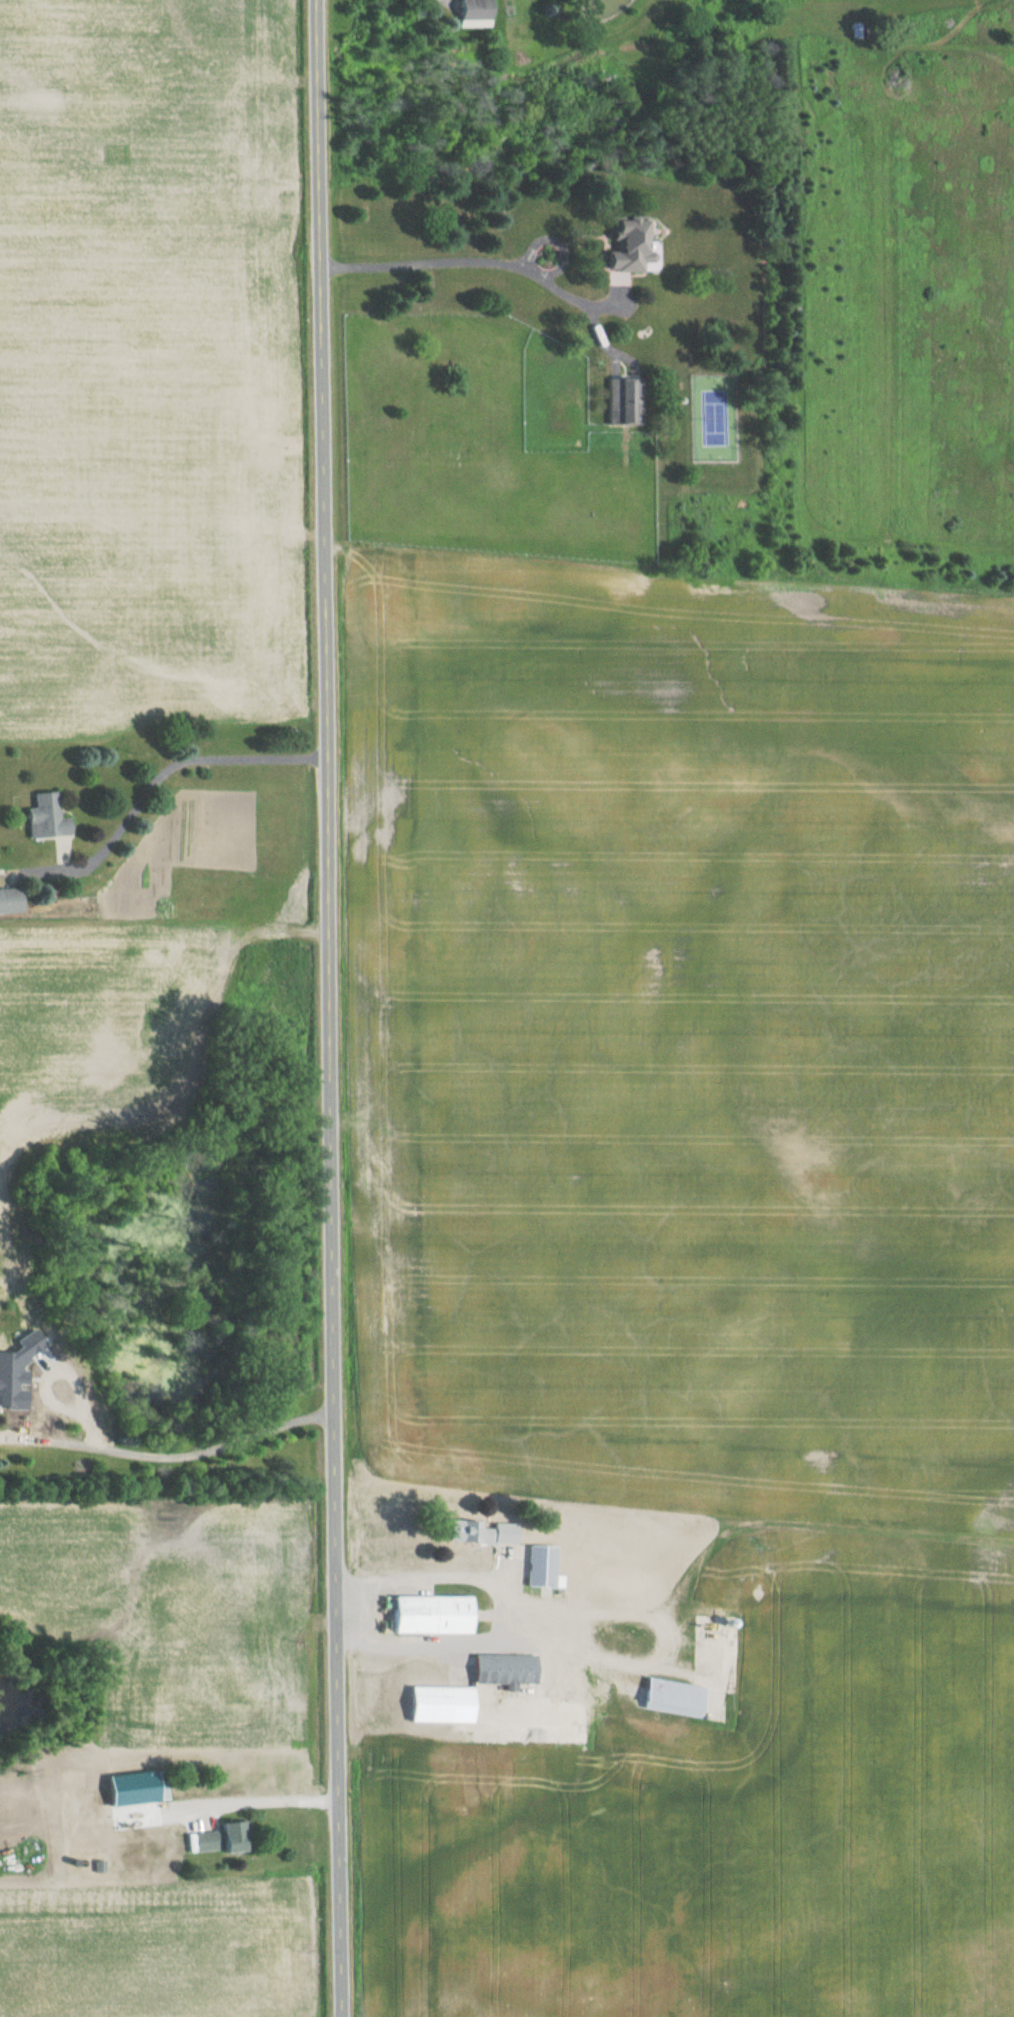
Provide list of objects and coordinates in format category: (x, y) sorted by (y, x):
building: (472, 13)
building: (624, 244)
road: (478, 261)
building: (621, 401)
building: (40, 817)
road: (329, 1008)
building: (10, 1387)
road: (182, 1455)
building: (483, 1532)
building: (596, 1534)
building: (603, 1561)
building: (540, 1566)
building: (431, 1614)
building: (501, 1668)
building: (567, 1681)
building: (671, 1697)
building: (439, 1704)
building: (154, 1788)
road: (274, 1800)
building: (221, 1837)

